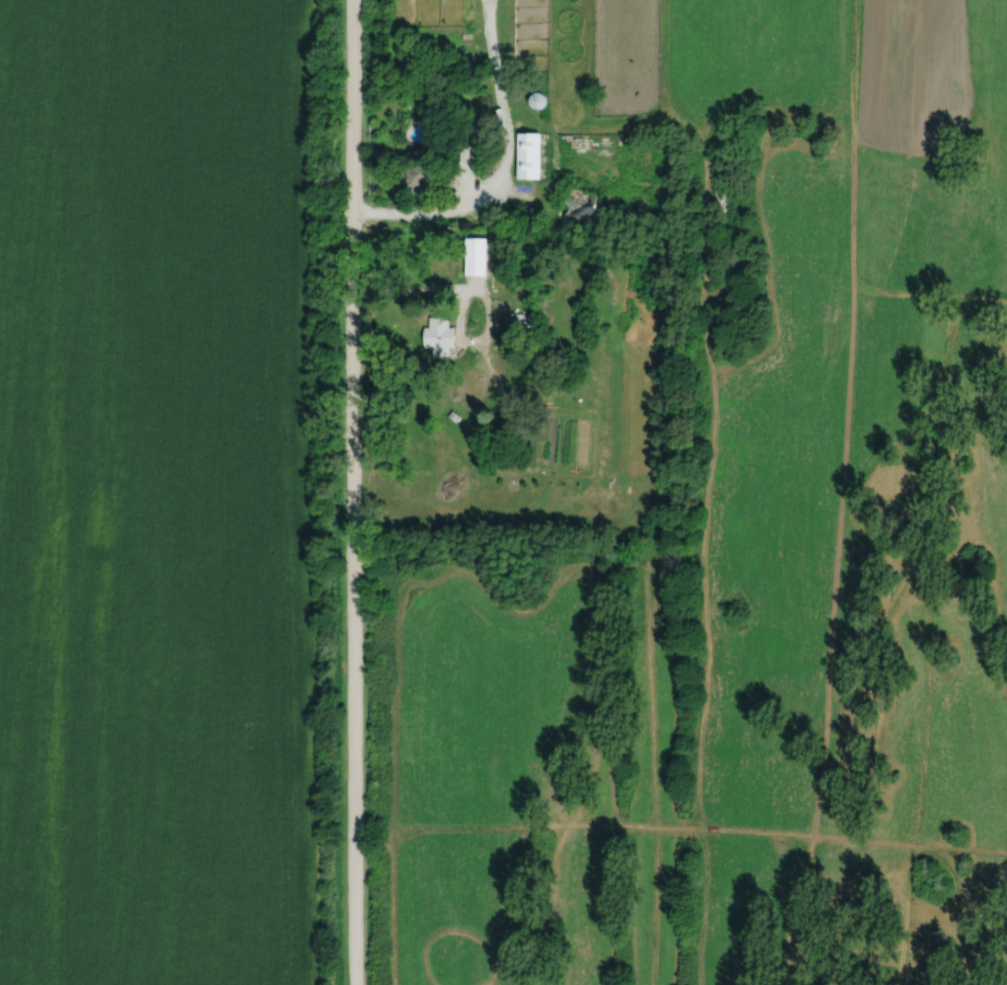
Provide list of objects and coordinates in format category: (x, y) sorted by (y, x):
building: (536, 99)
building: (463, 125)
building: (527, 153)
road: (501, 167)
building: (417, 171)
building: (580, 206)
building: (506, 210)
building: (474, 255)
road: (474, 288)
building: (497, 307)
building: (523, 320)
building: (438, 335)
building: (452, 415)
road: (351, 492)

